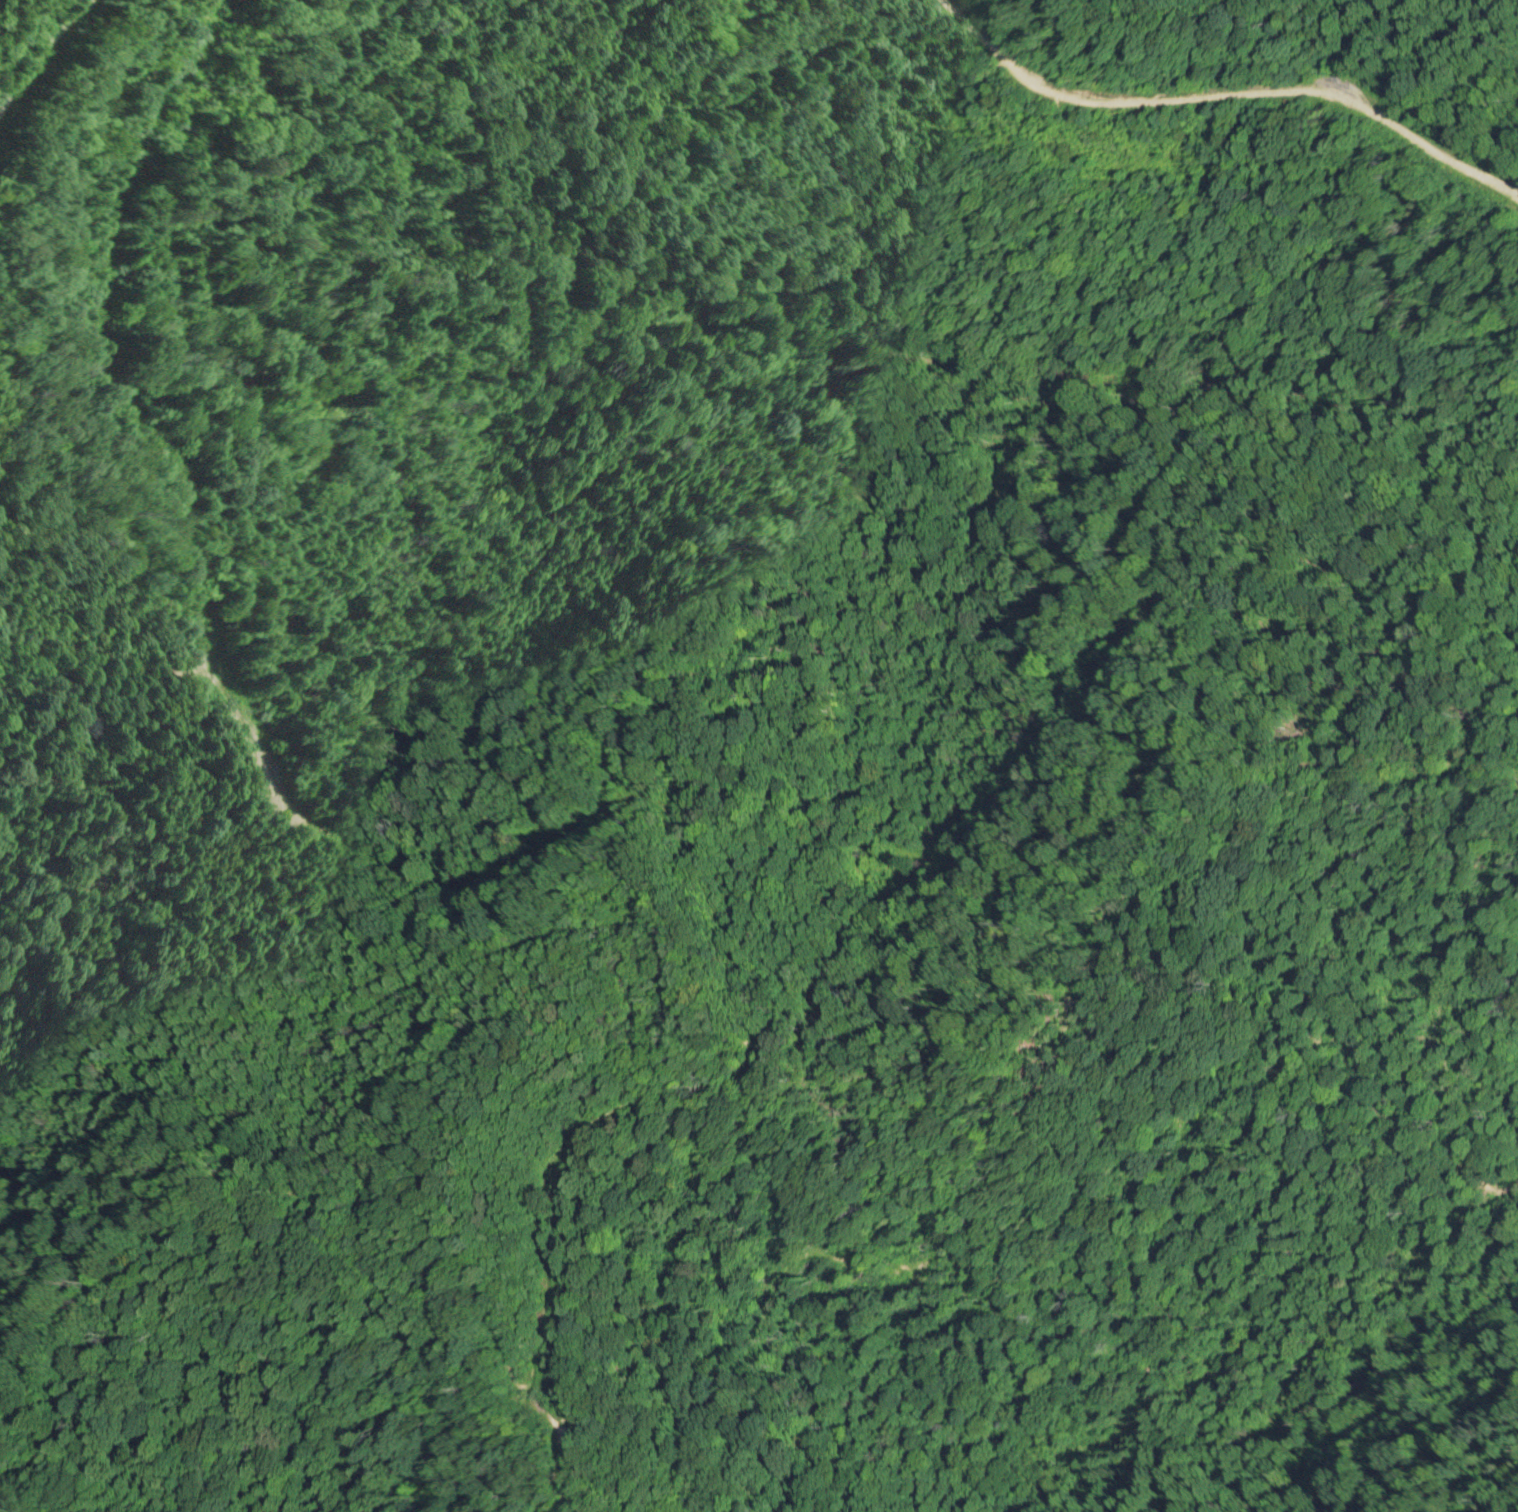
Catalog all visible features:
road: (43, 52)
road: (1229, 87)

